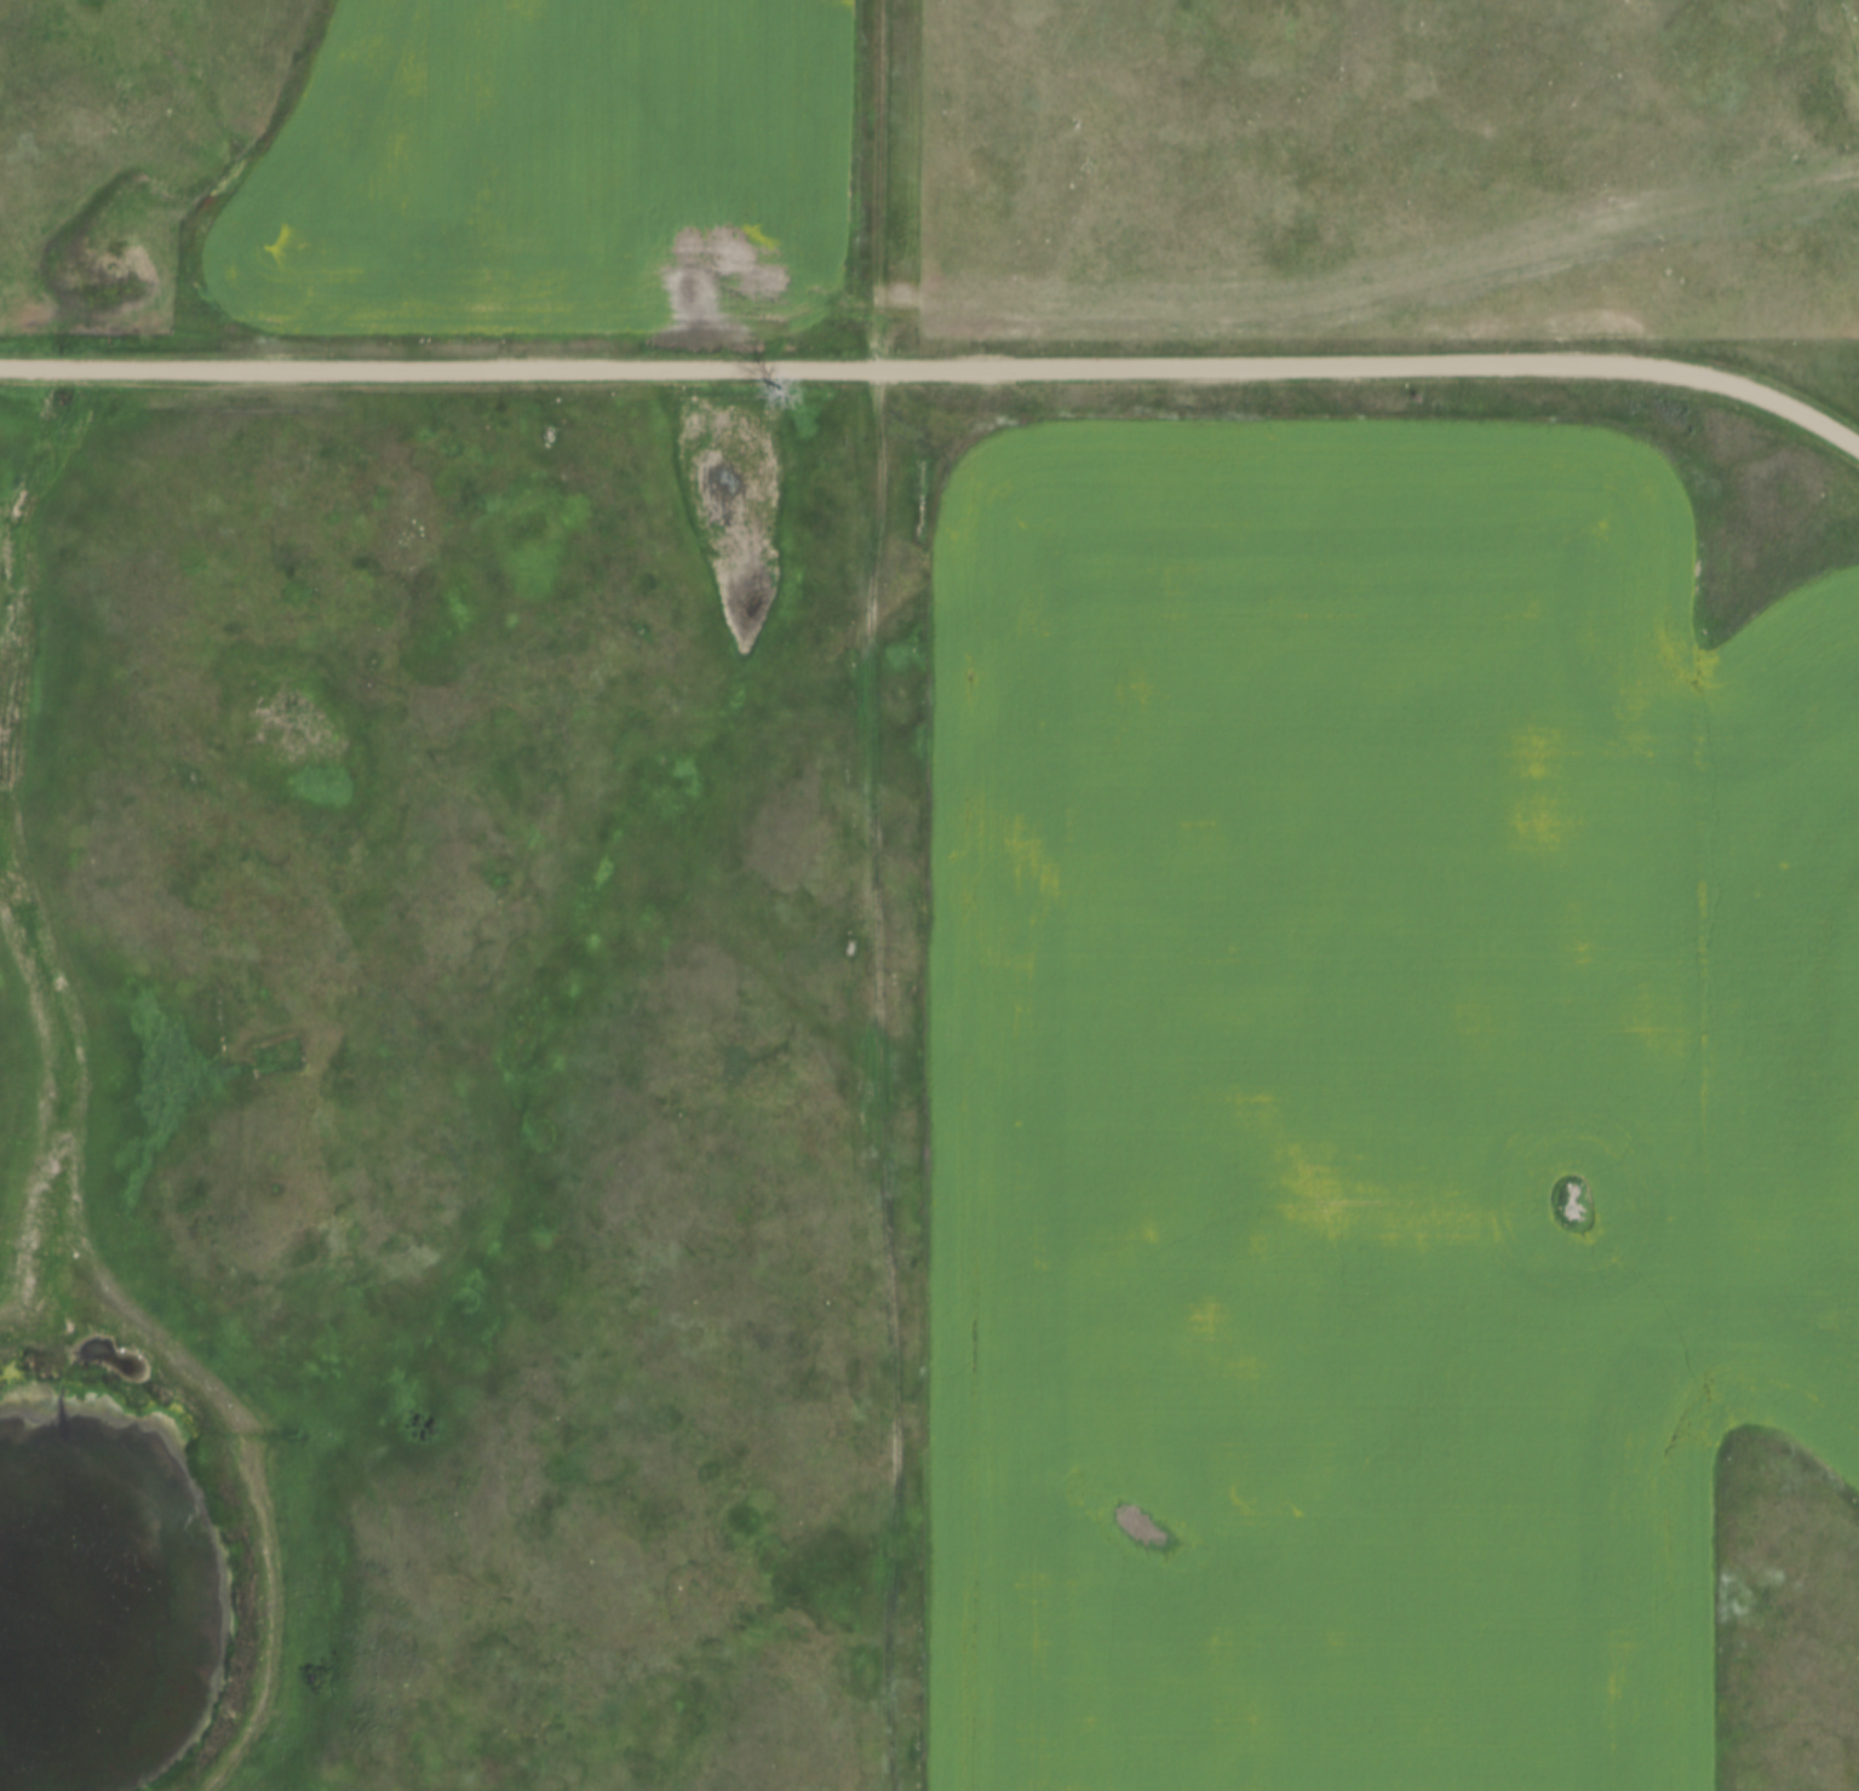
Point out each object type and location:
road: (1376, 368)
road: (438, 369)
road: (878, 895)

